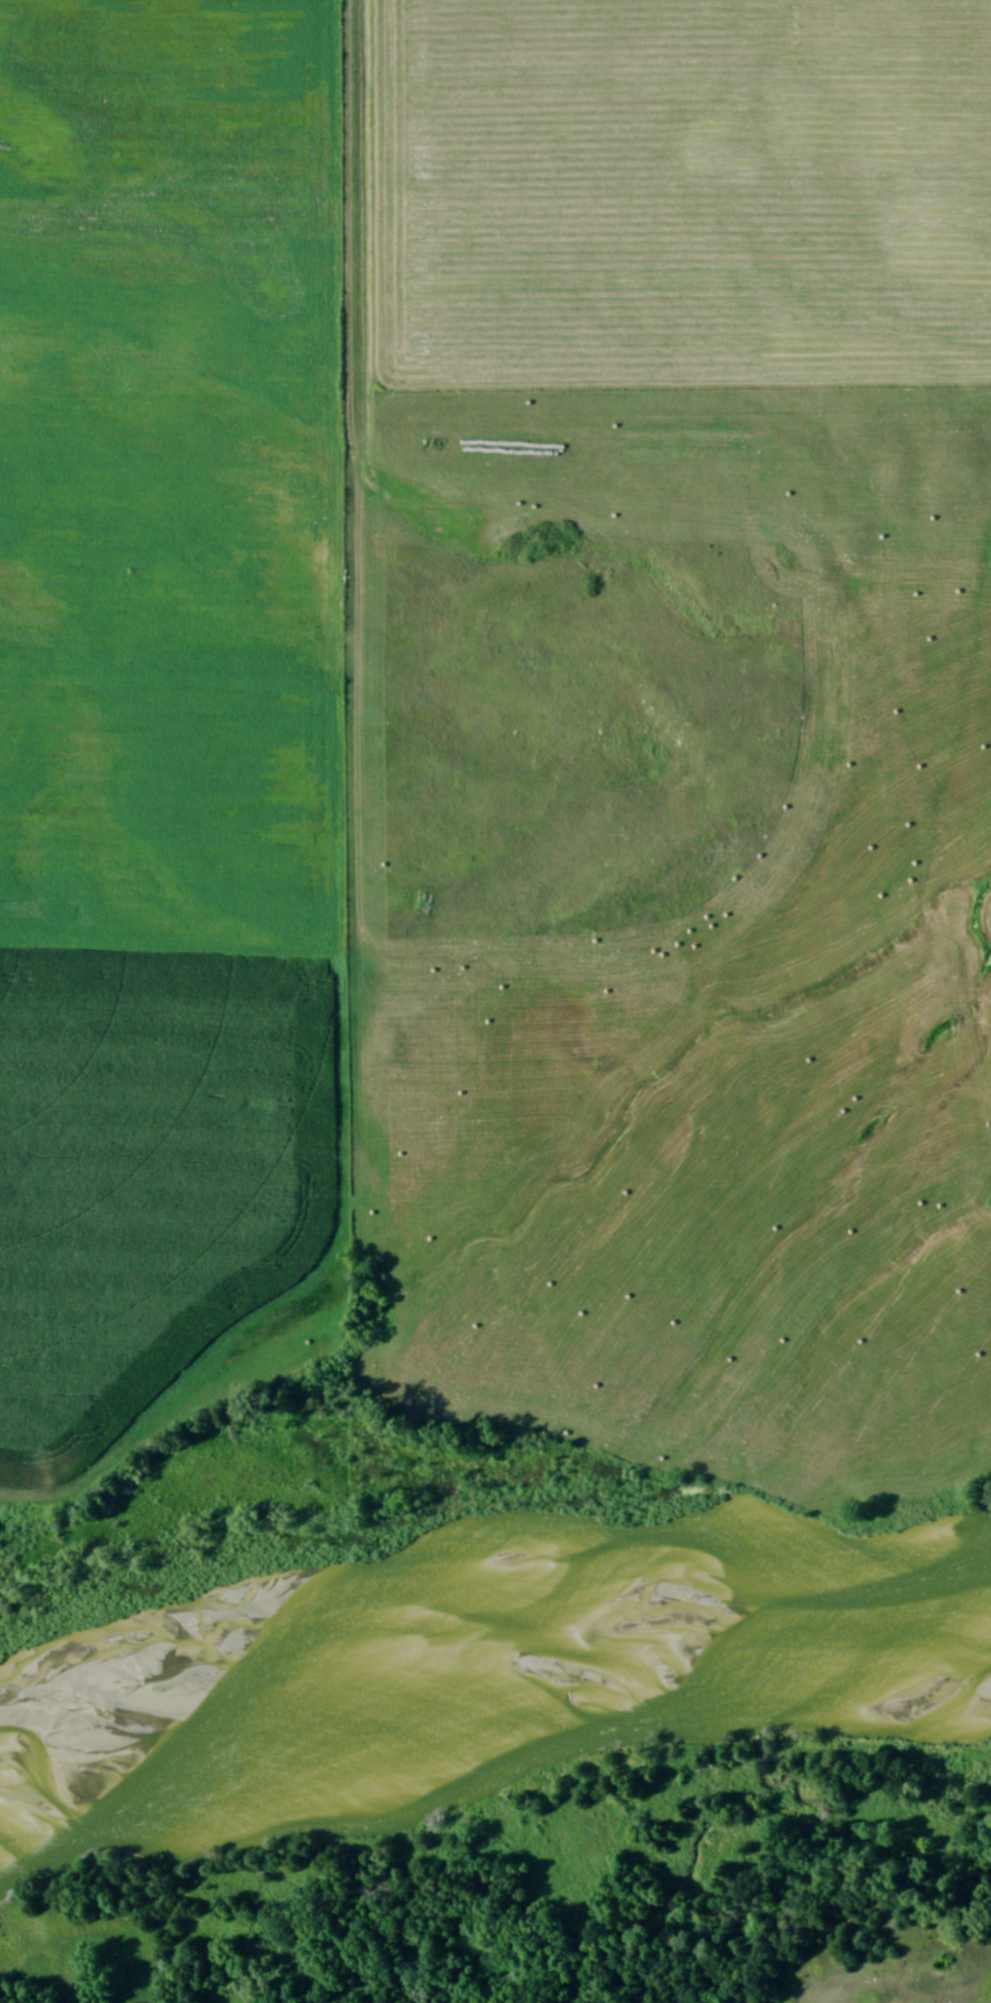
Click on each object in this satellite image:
river: (452, 1591)

